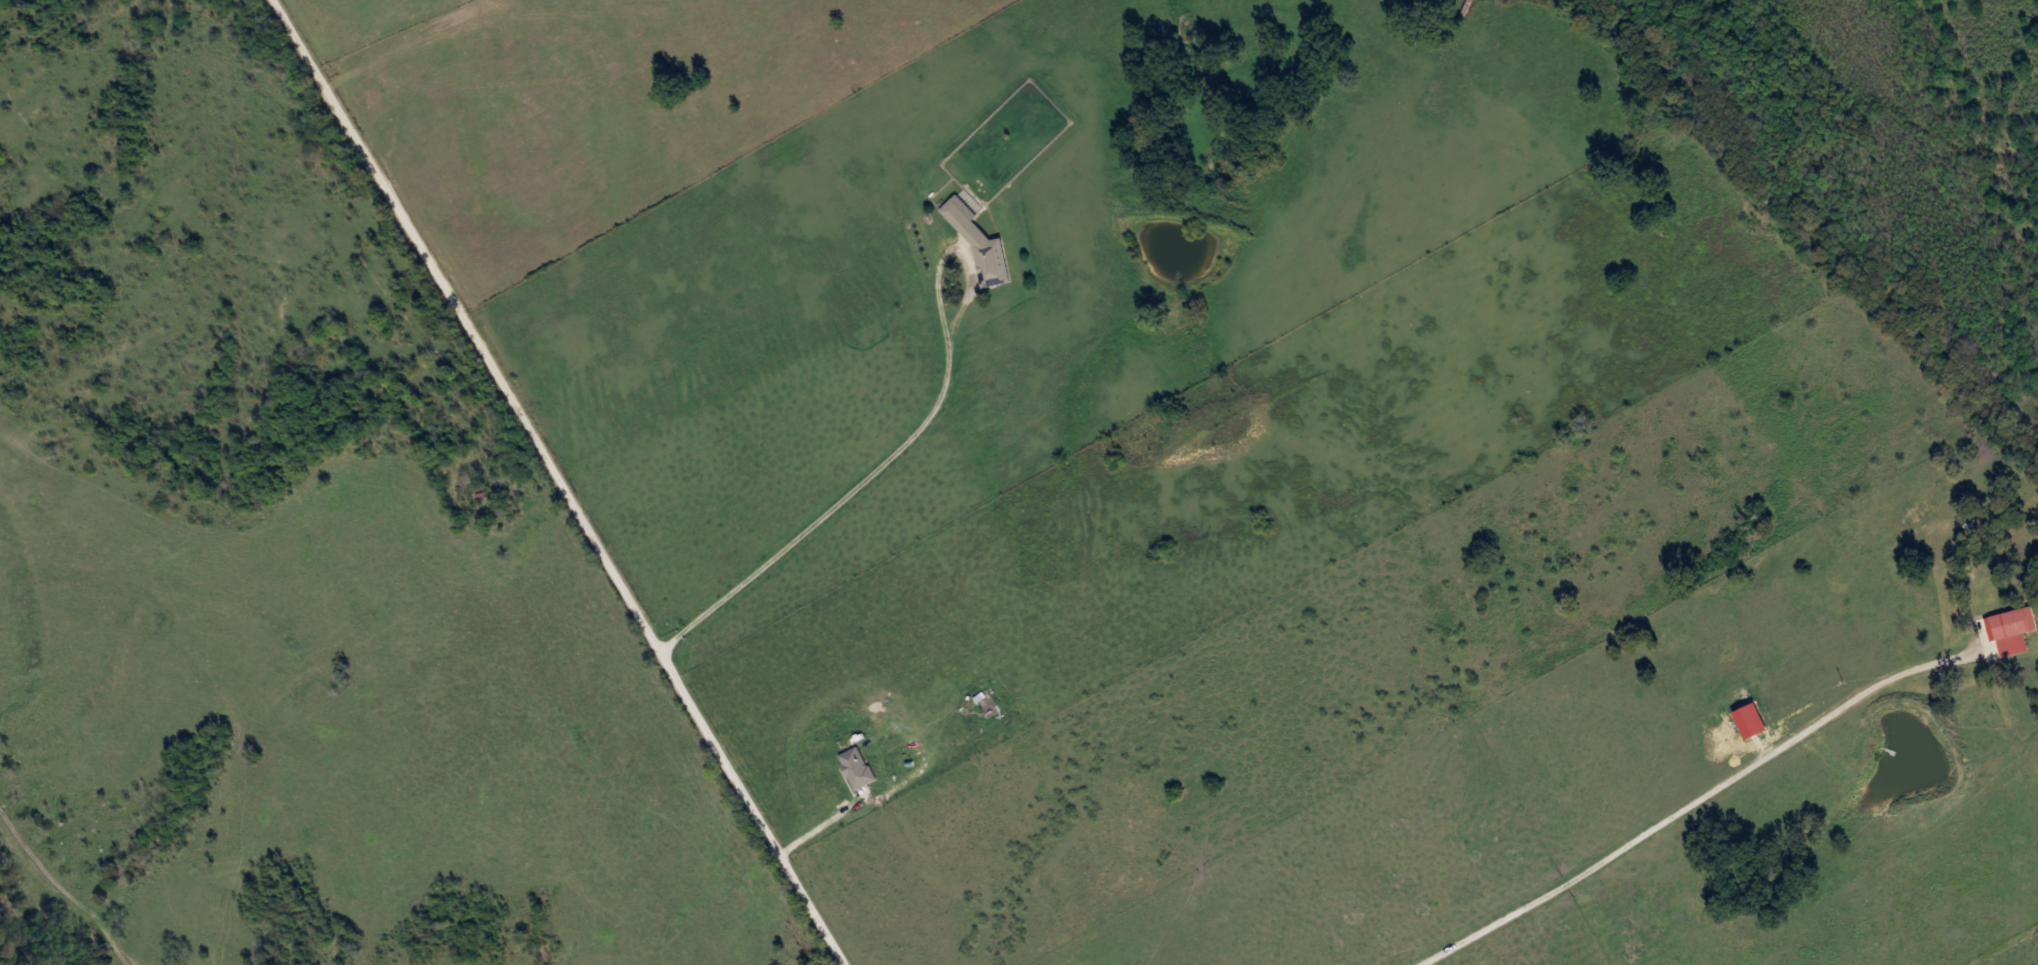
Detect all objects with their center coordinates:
building: (981, 242)
road: (557, 480)
road: (836, 498)
building: (2014, 622)
building: (858, 766)
road: (1688, 803)

